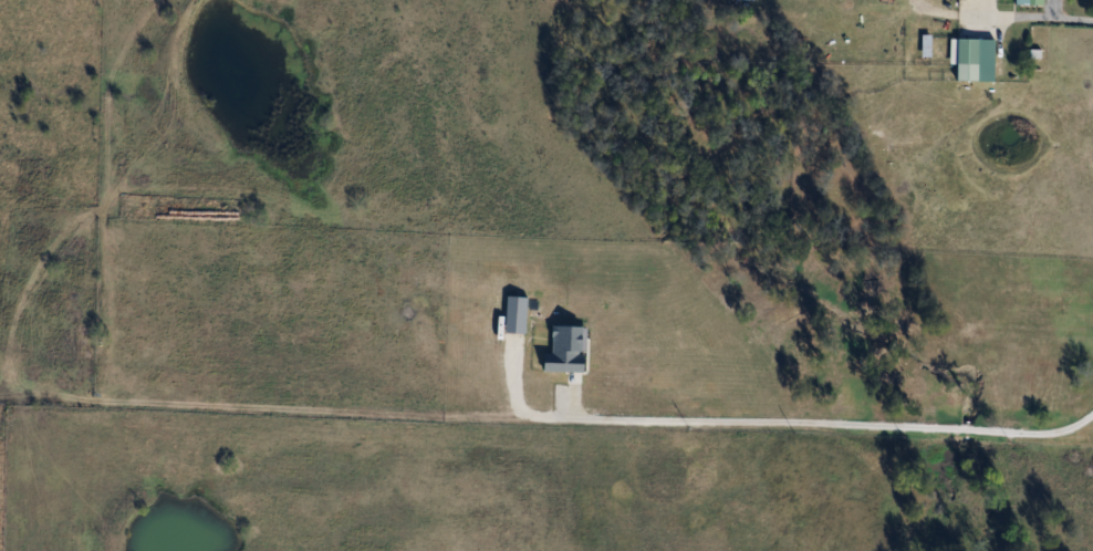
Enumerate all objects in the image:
building: (1030, 1)
road: (1003, 13)
building: (975, 58)
road: (829, 422)

